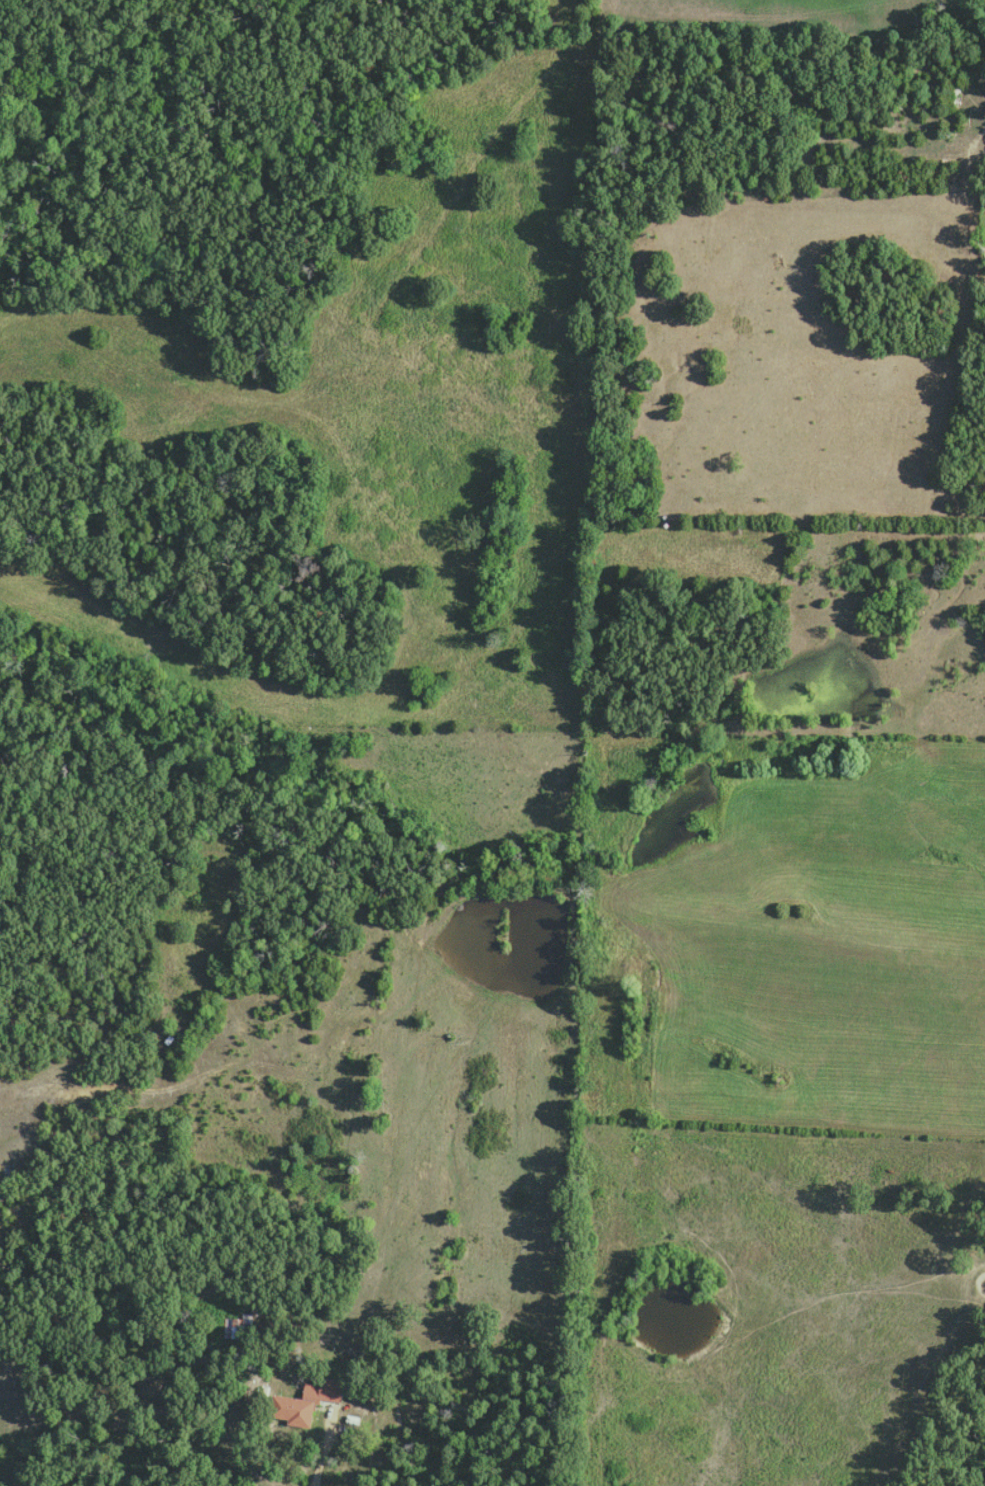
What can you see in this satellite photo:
building: (237, 1326)
building: (306, 1400)
road: (322, 1453)

